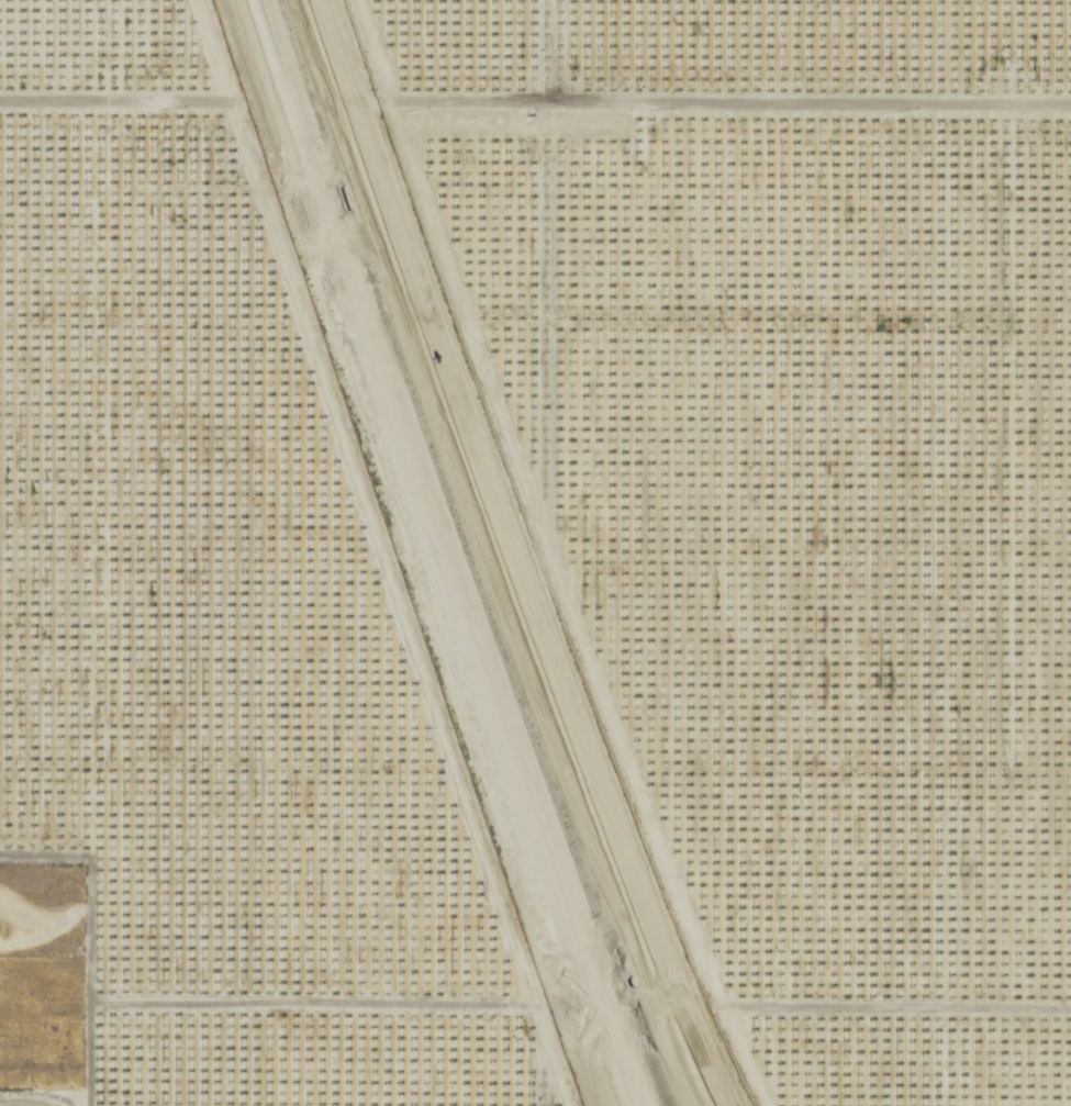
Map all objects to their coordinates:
road: (736, 109)
road: (107, 111)
railway: (431, 555)
railway: (443, 555)
road: (83, 943)
road: (302, 1015)
road: (894, 1017)
road: (42, 1101)

